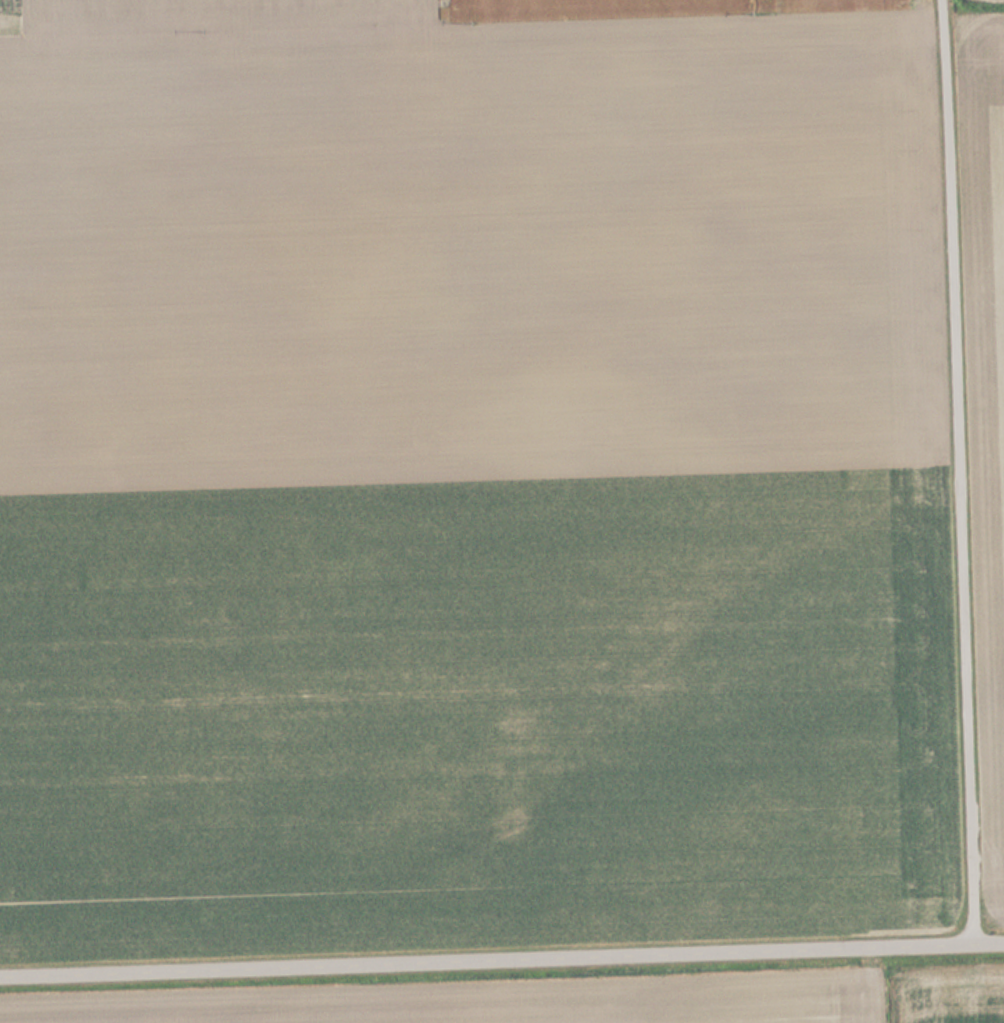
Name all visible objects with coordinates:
road: (957, 470)
road: (501, 956)

